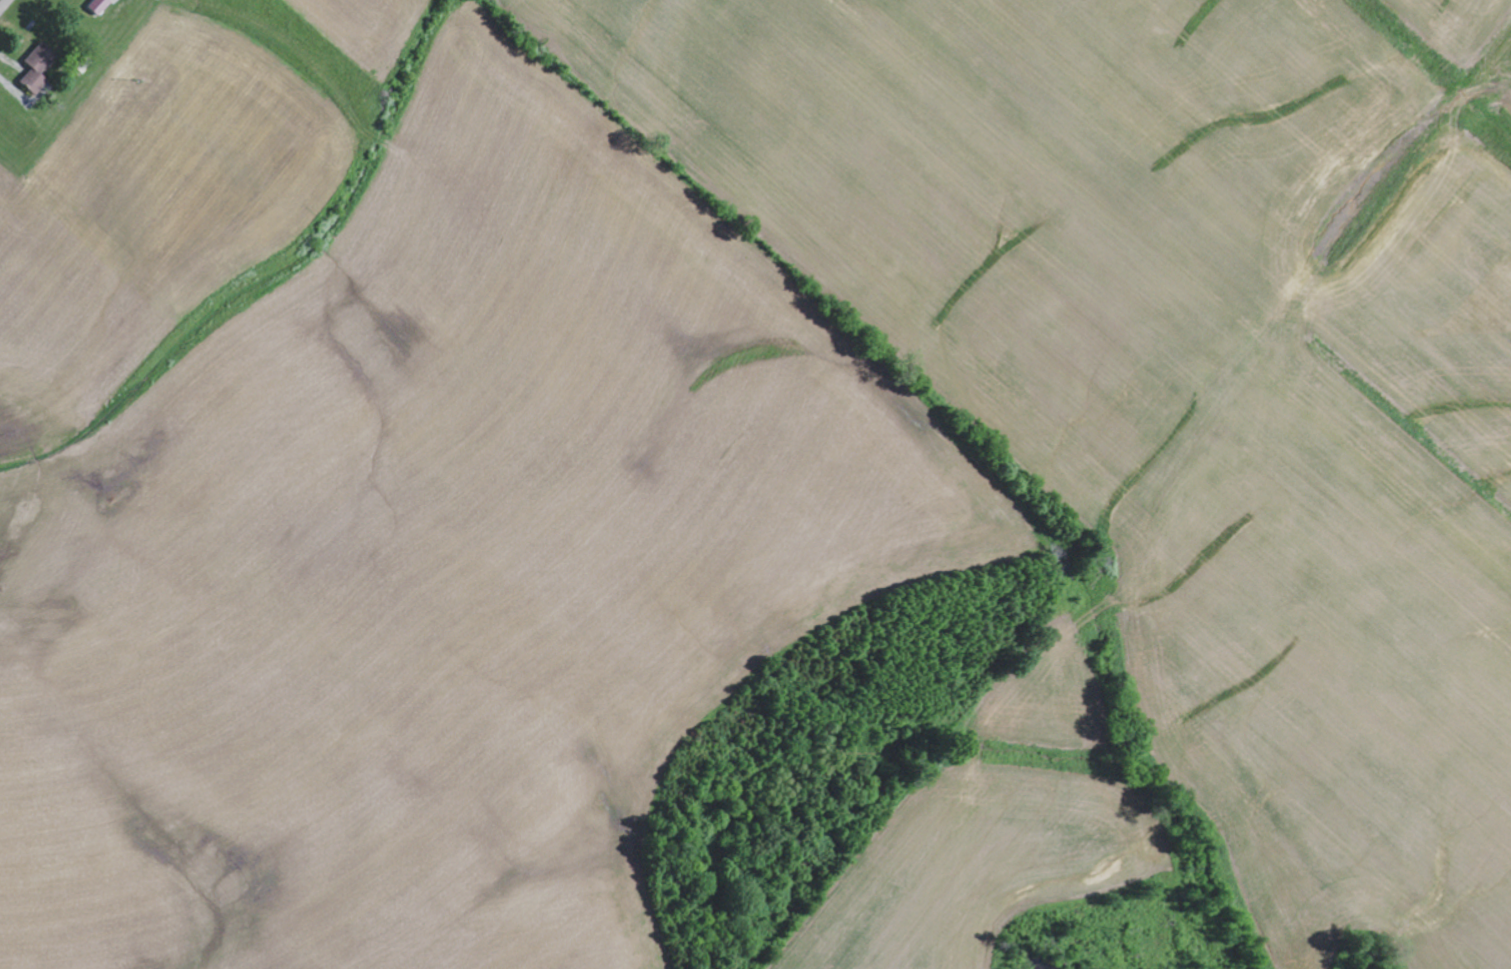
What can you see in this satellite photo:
road: (4, 4)
building: (98, 7)
building: (36, 69)

